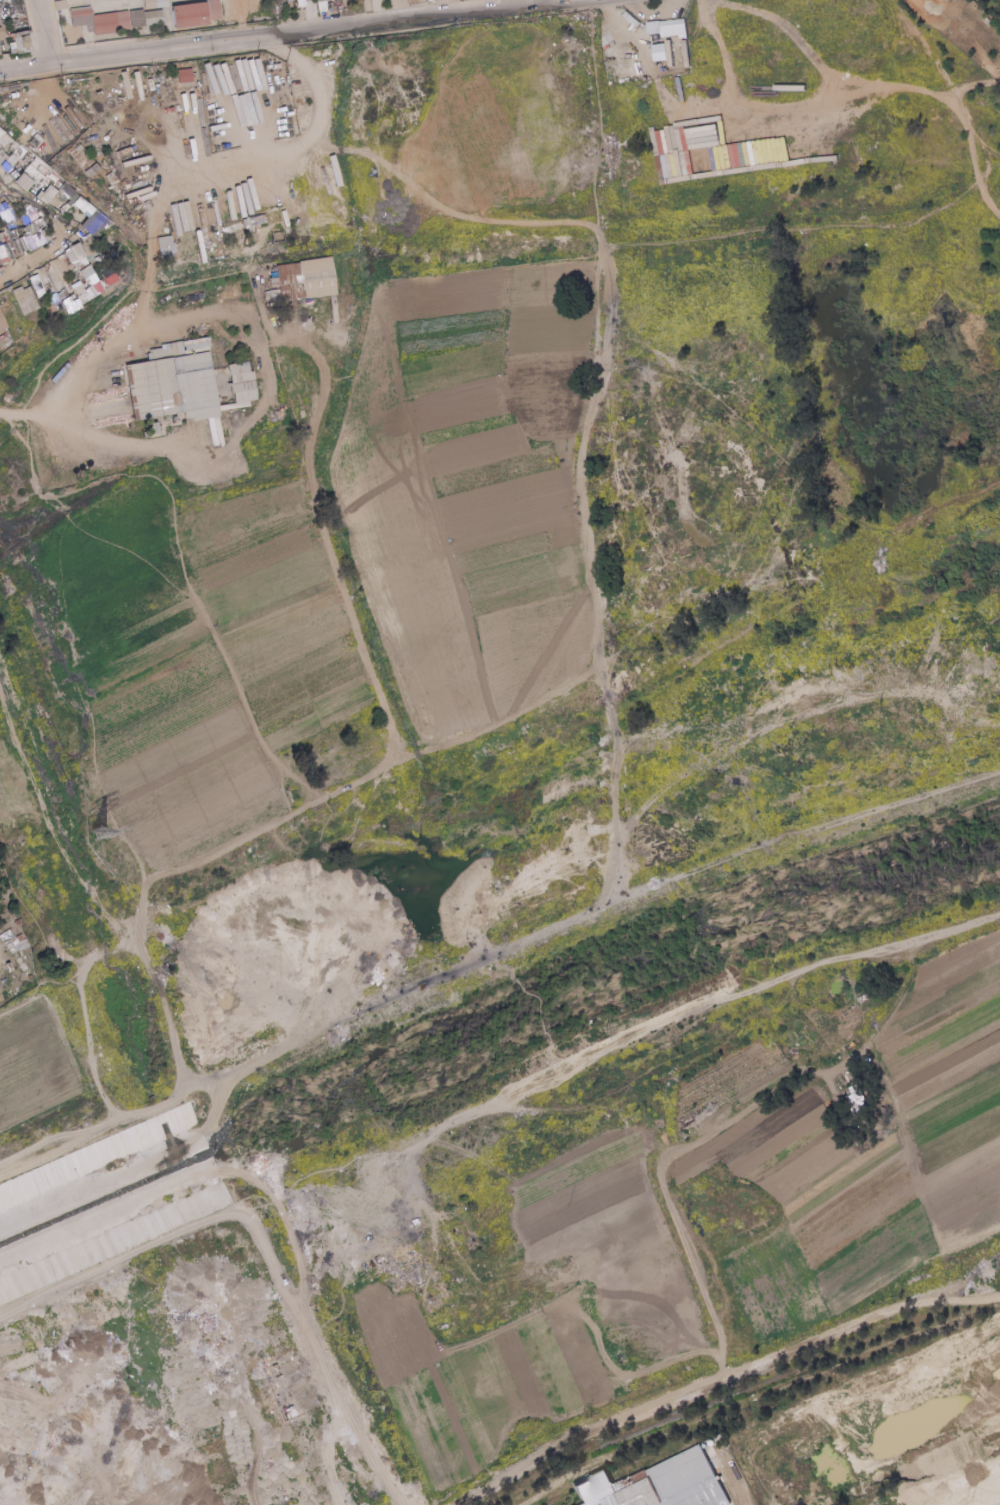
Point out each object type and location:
park: (994, 5)
crop: (519, 121)
crop: (462, 489)
crop: (200, 657)
crop: (709, 1241)

